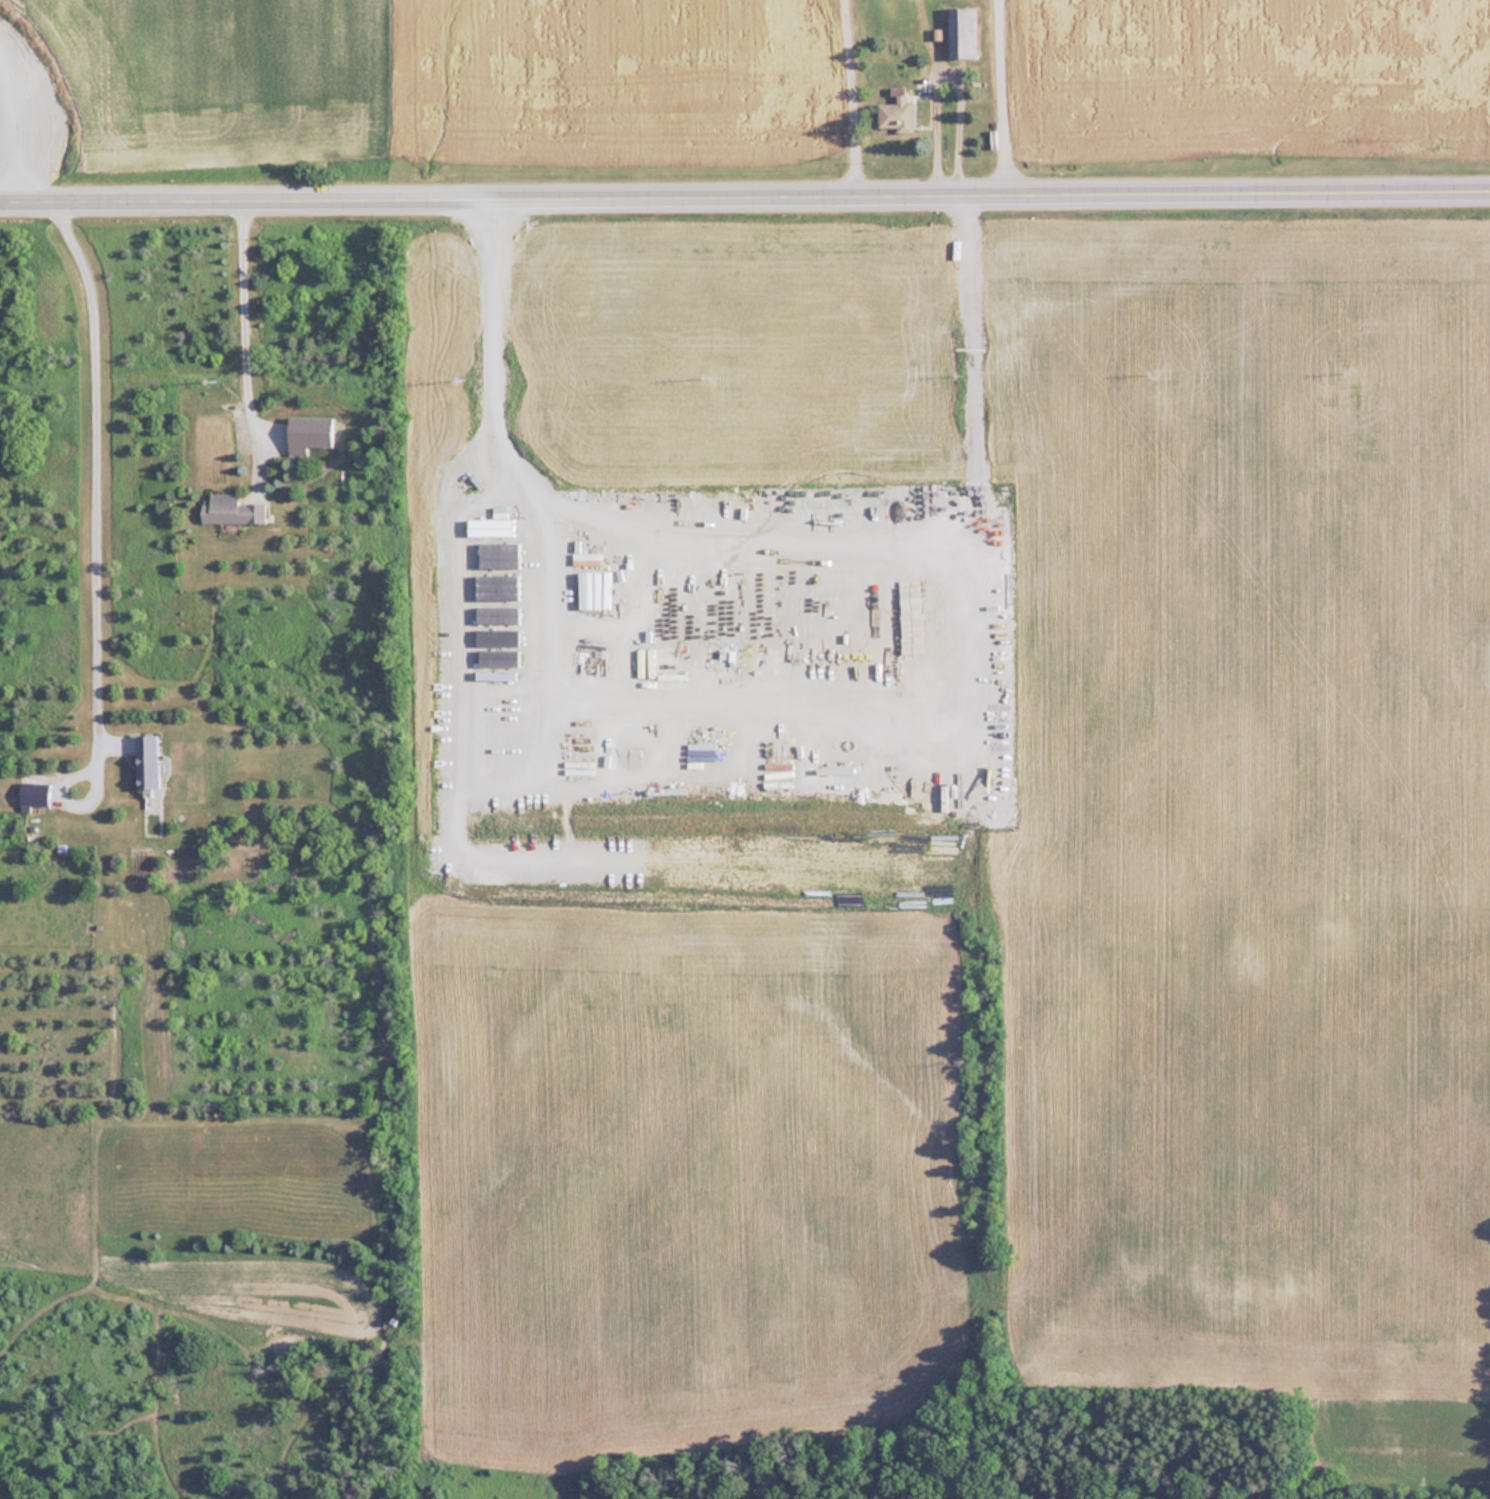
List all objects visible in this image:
building: (961, 32)
road: (945, 62)
road: (997, 99)
road: (846, 100)
building: (895, 115)
road: (745, 201)
road: (242, 344)
road: (488, 364)
road: (94, 463)
building: (231, 508)
building: (146, 760)
road: (988, 790)
building: (33, 793)

